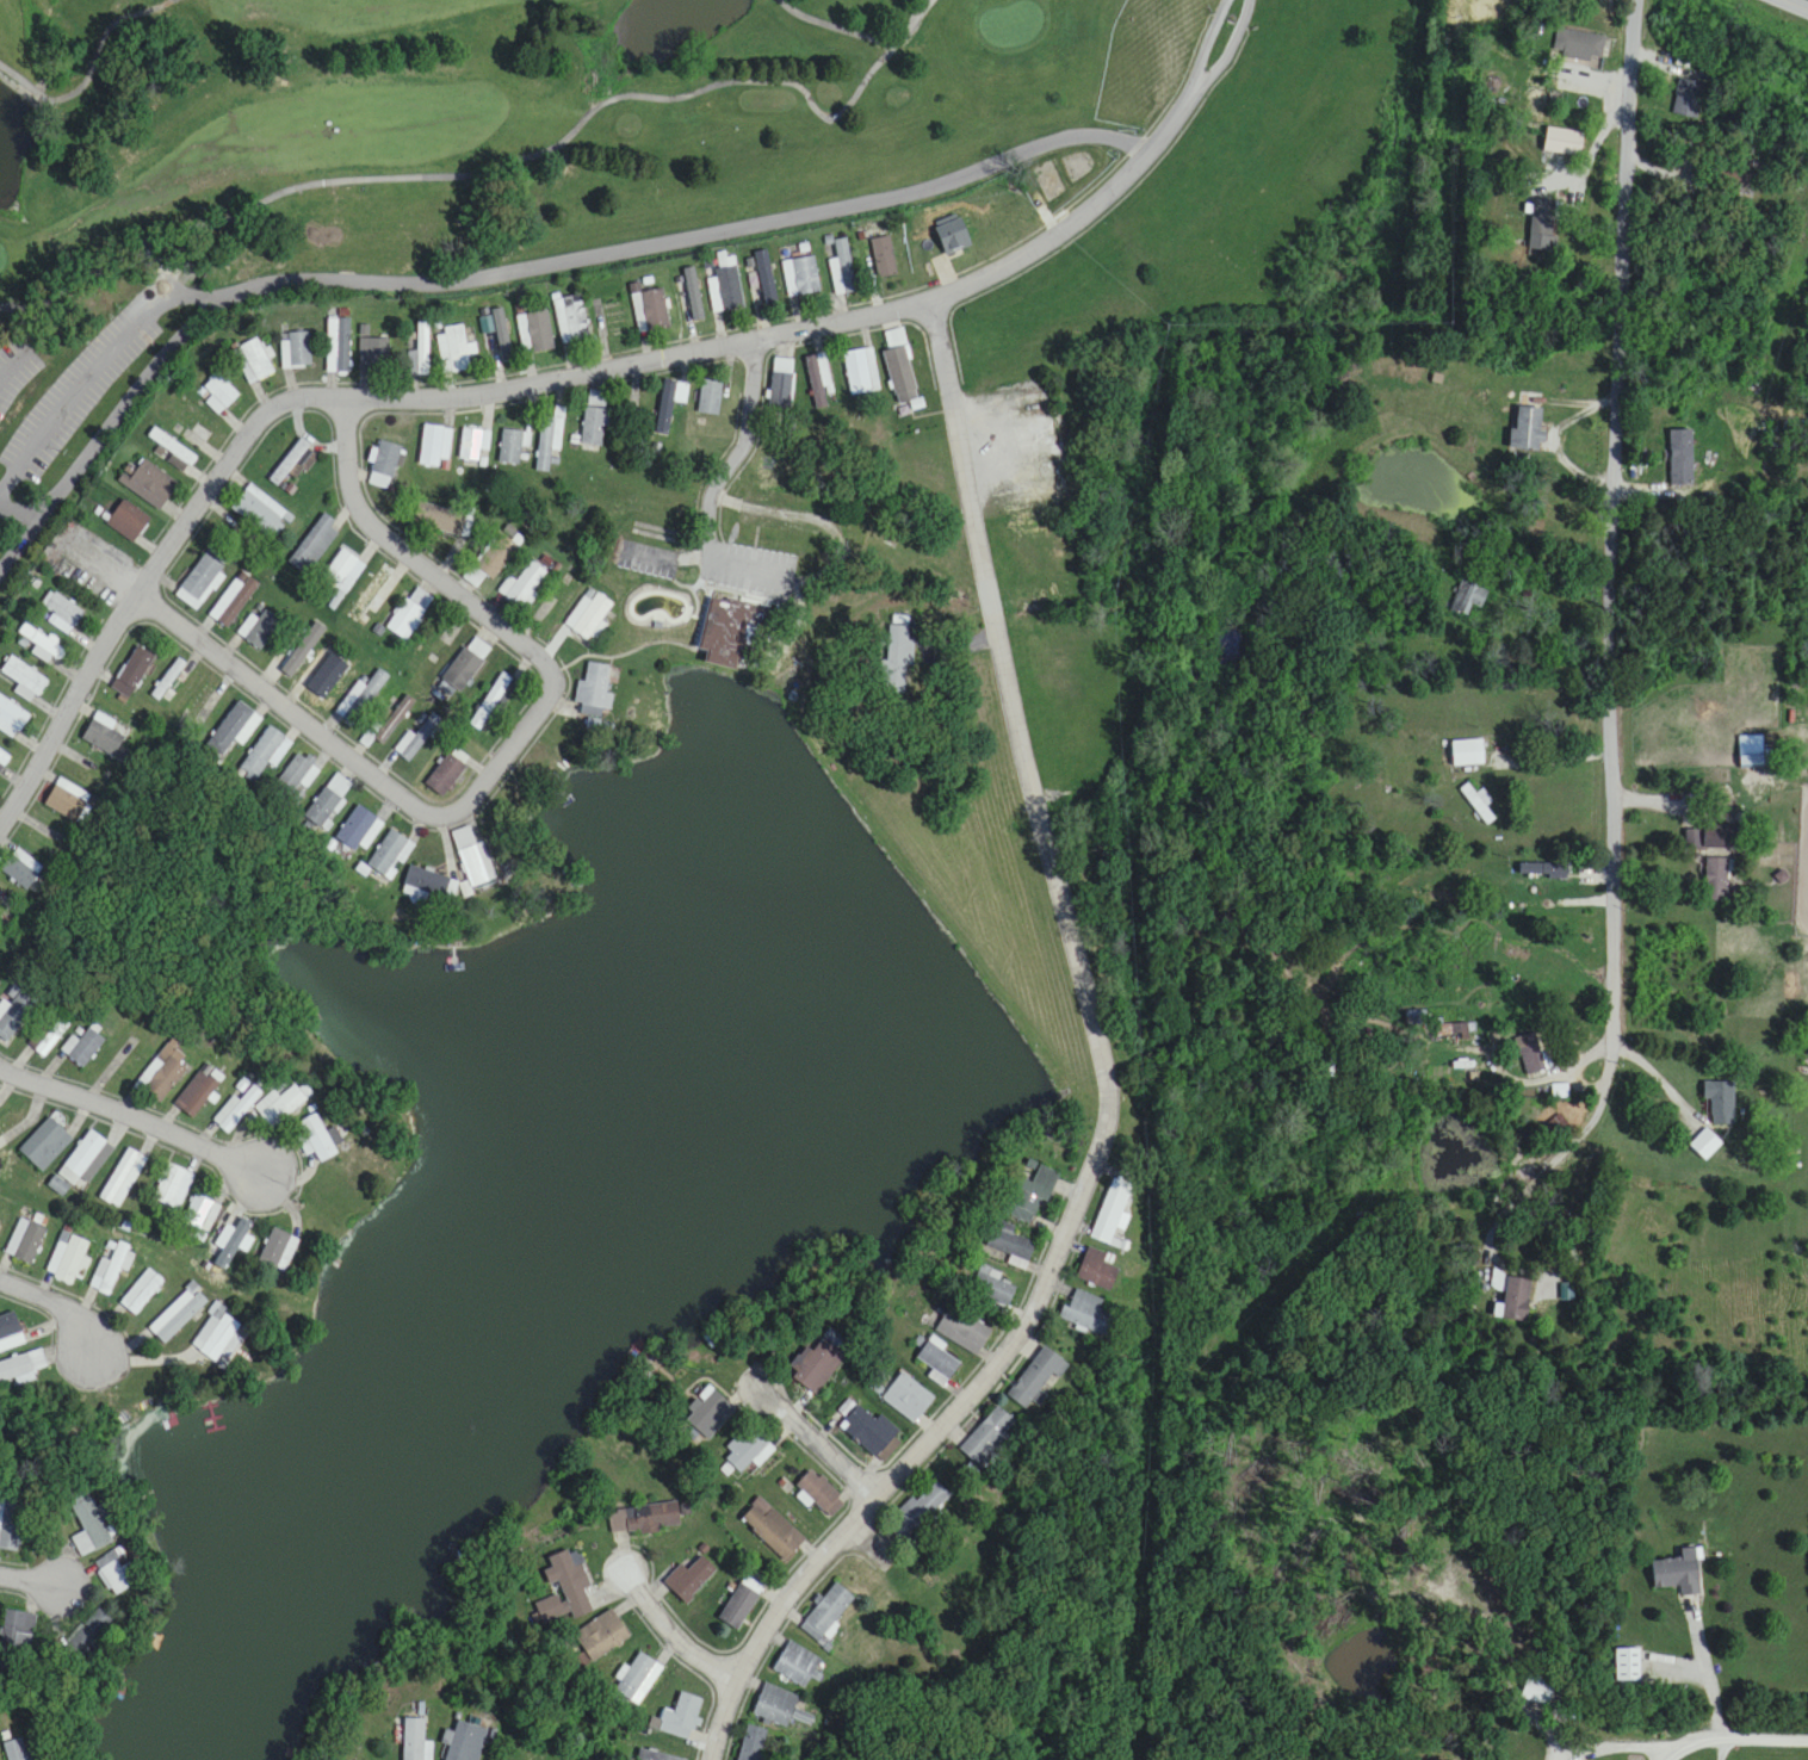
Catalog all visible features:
road: (1800, 2)
road: (911, 23)
road: (837, 27)
building: (1578, 45)
road: (91, 68)
building: (1691, 99)
building: (1564, 142)
road: (476, 174)
road: (1117, 184)
building: (1542, 227)
building: (953, 237)
building: (884, 258)
road: (519, 266)
building: (843, 267)
building: (801, 277)
building: (725, 285)
building: (650, 311)
building: (571, 320)
building: (497, 333)
building: (535, 333)
building: (339, 345)
building: (374, 349)
building: (454, 349)
building: (296, 351)
building: (421, 352)
building: (253, 361)
building: (16, 365)
building: (900, 368)
building: (862, 372)
building: (91, 373)
building: (819, 380)
building: (782, 383)
building: (219, 393)
road: (360, 393)
road: (1530, 393)
building: (710, 397)
building: (594, 420)
building: (1528, 421)
building: (550, 444)
building: (475, 446)
building: (434, 447)
building: (172, 448)
building: (1680, 458)
building: (293, 463)
building: (384, 465)
road: (725, 475)
building: (150, 484)
building: (261, 509)
road: (16, 512)
road: (1616, 518)
building: (438, 519)
building: (128, 521)
building: (314, 545)
building: (343, 571)
building: (200, 578)
building: (525, 585)
building: (374, 593)
building: (234, 600)
building: (1469, 600)
building: (62, 612)
building: (408, 616)
building: (588, 616)
building: (261, 628)
building: (725, 632)
building: (42, 642)
building: (291, 656)
building: (896, 659)
building: (464, 665)
building: (132, 671)
building: (173, 677)
building: (24, 678)
building: (587, 684)
building: (364, 695)
building: (490, 701)
building: (200, 708)
building: (10, 719)
building: (392, 720)
building: (235, 729)
building: (105, 735)
road: (504, 754)
building: (1467, 754)
building: (261, 755)
building: (2, 761)
road: (1549, 761)
building: (447, 771)
building: (292, 777)
building: (67, 800)
building: (328, 801)
building: (1479, 804)
building: (358, 830)
building: (1707, 836)
building: (391, 851)
building: (473, 860)
building: (21, 869)
building: (1544, 870)
building: (426, 886)
building: (14, 1015)
road: (1096, 1036)
building: (51, 1039)
building: (85, 1047)
building: (1531, 1055)
building: (162, 1073)
road: (1509, 1074)
road: (1665, 1086)
road: (1585, 1090)
building: (197, 1091)
building: (274, 1107)
building: (233, 1110)
road: (130, 1114)
building: (307, 1139)
building: (45, 1145)
building: (1705, 1145)
building: (86, 1161)
building: (123, 1178)
road: (1543, 1180)
building: (171, 1188)
building: (1030, 1194)
building: (1112, 1211)
building: (197, 1215)
building: (25, 1241)
building: (222, 1241)
building: (265, 1250)
building: (69, 1259)
building: (110, 1270)
building: (1096, 1270)
building: (993, 1285)
building: (140, 1293)
road: (52, 1300)
building: (1517, 1300)
building: (1086, 1314)
building: (174, 1315)
building: (10, 1327)
building: (962, 1330)
building: (211, 1339)
building: (937, 1363)
building: (816, 1367)
building: (21, 1368)
building: (1038, 1378)
building: (908, 1398)
building: (710, 1413)
building: (873, 1433)
building: (989, 1438)
road: (819, 1440)
building: (749, 1450)
building: (821, 1494)
building: (921, 1512)
building: (644, 1519)
building: (11, 1526)
building: (88, 1527)
building: (772, 1530)
road: (868, 1549)
road: (29, 1570)
building: (1678, 1574)
building: (114, 1576)
building: (689, 1580)
building: (565, 1588)
building: (737, 1607)
building: (829, 1613)
road: (667, 1628)
building: (17, 1631)
building: (86, 1635)
building: (601, 1636)
building: (797, 1666)
building: (1627, 1666)
road: (1710, 1674)
building: (634, 1681)
building: (1537, 1691)
building: (782, 1708)
road: (720, 1716)
building: (677, 1718)
road: (1729, 1733)
building: (413, 1740)
building: (465, 1742)
building: (751, 1743)
road: (1621, 1743)
building: (16, 1749)
building: (654, 1756)

